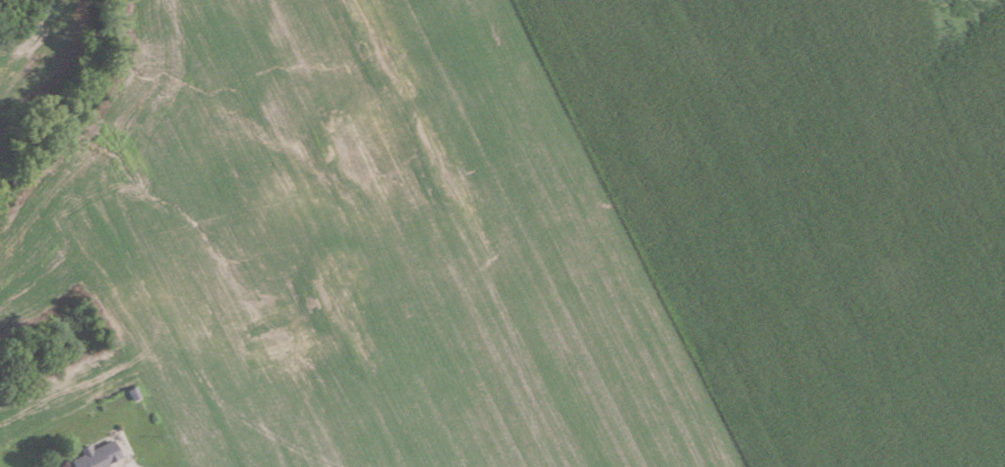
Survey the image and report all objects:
building: (98, 455)

